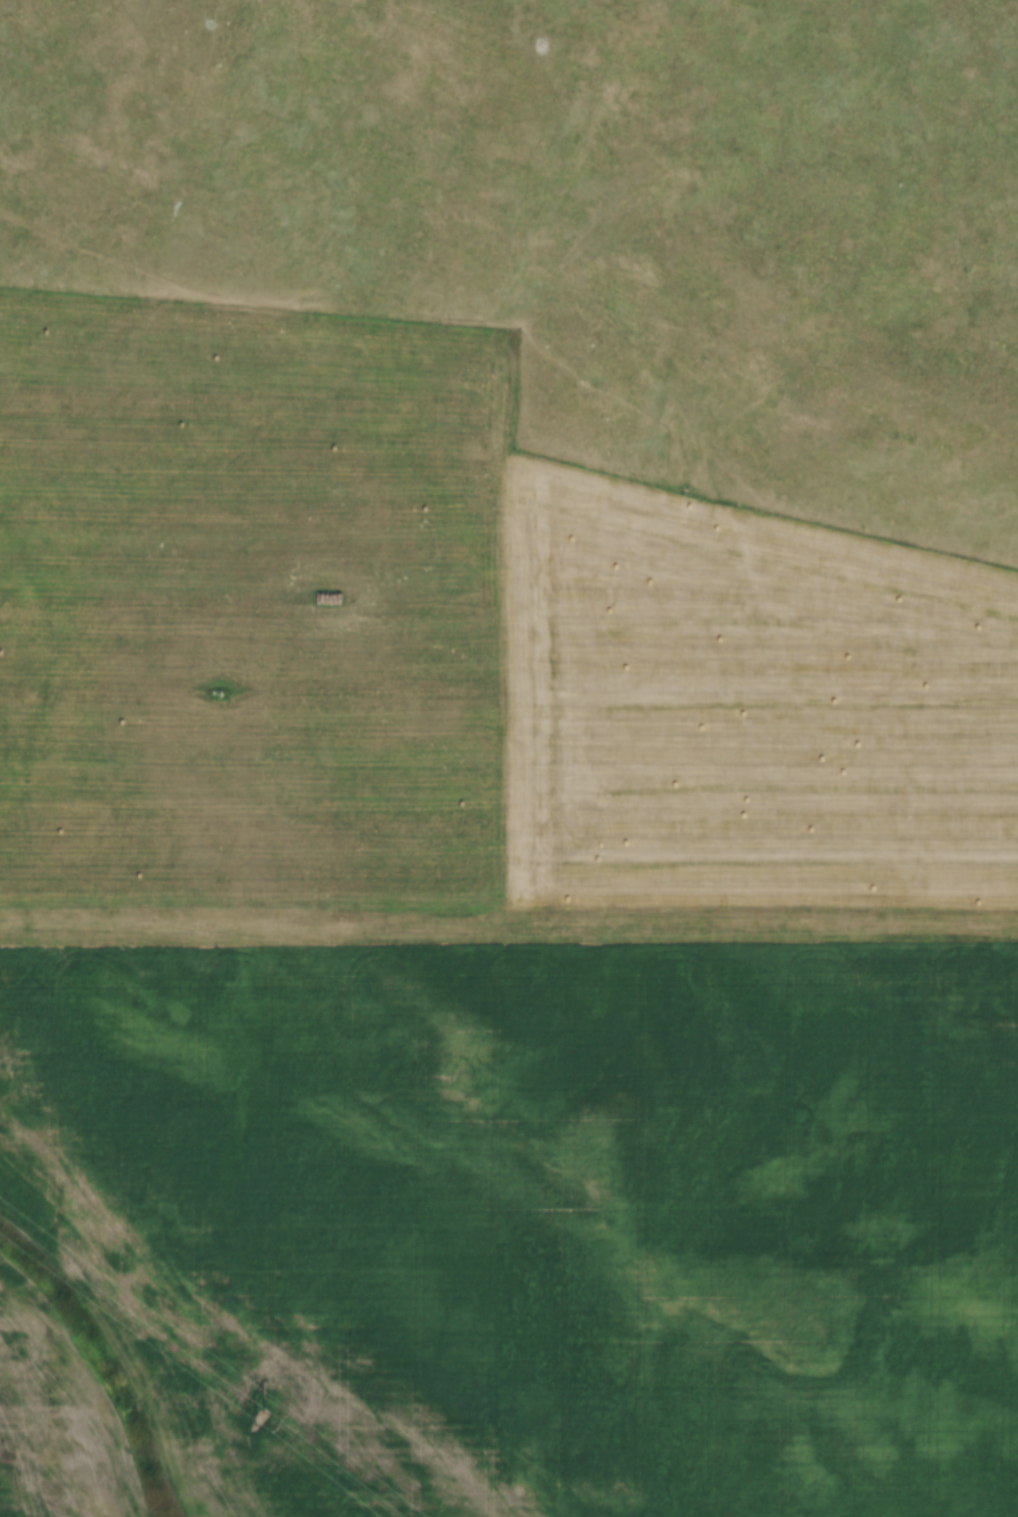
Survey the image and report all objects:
power tower: (260, 1417)

